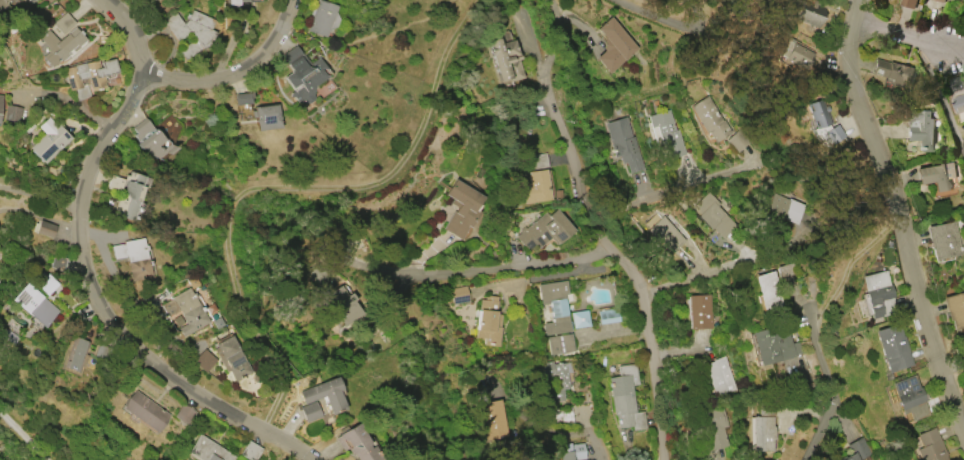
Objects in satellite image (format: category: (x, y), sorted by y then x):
building: (28, 0)
building: (940, 1)
building: (233, 2)
building: (908, 3)
building: (3, 4)
building: (320, 18)
building: (807, 18)
building: (63, 23)
road: (521, 28)
building: (190, 30)
road: (898, 33)
building: (60, 44)
building: (612, 45)
building: (795, 53)
building: (505, 59)
building: (893, 71)
road: (231, 74)
building: (302, 74)
building: (88, 76)
building: (956, 83)
road: (940, 95)
road: (64, 98)
building: (240, 98)
building: (0, 99)
building: (959, 105)
building: (11, 113)
building: (265, 116)
building: (709, 118)
building: (822, 123)
building: (921, 130)
building: (666, 133)
building: (151, 139)
building: (48, 140)
building: (737, 141)
building: (623, 143)
building: (539, 161)
building: (936, 175)
road: (283, 185)
building: (536, 186)
road: (676, 186)
building: (125, 193)
road: (37, 194)
building: (781, 208)
building: (460, 209)
building: (711, 214)
road: (891, 219)
building: (45, 229)
building: (544, 230)
building: (663, 232)
building: (944, 240)
road: (74, 243)
road: (618, 252)
building: (132, 257)
building: (56, 262)
road: (714, 266)
road: (500, 270)
building: (786, 273)
building: (46, 283)
building: (767, 291)
building: (876, 292)
building: (459, 294)
building: (344, 303)
building: (35, 305)
building: (554, 306)
building: (955, 309)
building: (182, 310)
building: (698, 311)
building: (607, 316)
building: (579, 318)
building: (488, 321)
building: (560, 344)
building: (774, 344)
building: (892, 348)
building: (75, 355)
building: (230, 358)
building: (202, 360)
building: (719, 376)
building: (554, 380)
road: (831, 390)
building: (325, 394)
building: (909, 397)
building: (625, 398)
building: (145, 411)
building: (309, 411)
building: (183, 414)
building: (564, 416)
building: (493, 419)
road: (534, 424)
road: (30, 428)
building: (763, 428)
building: (713, 436)
building: (357, 443)
road: (595, 445)
building: (930, 446)
road: (273, 448)
building: (857, 449)
building: (208, 450)
building: (249, 451)
building: (572, 451)

